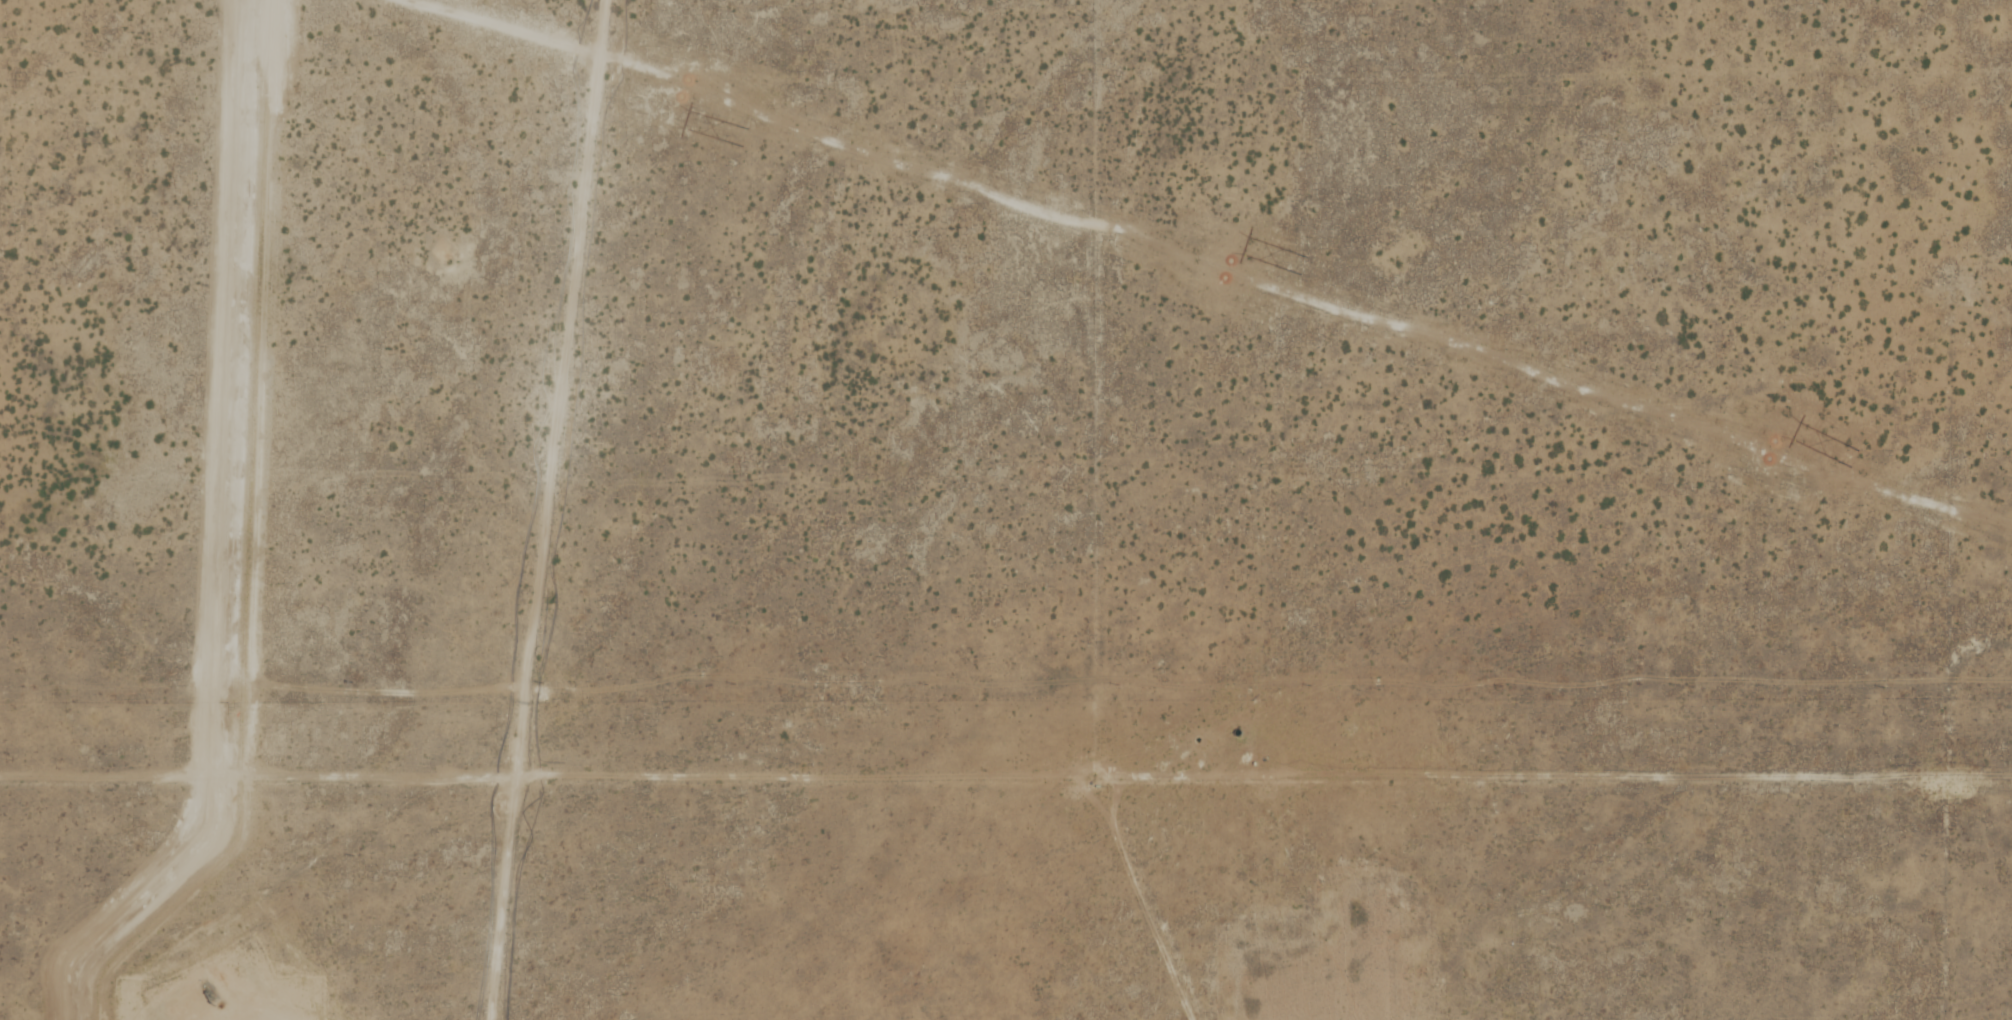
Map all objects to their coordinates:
road: (544, 509)
road: (258, 1017)

